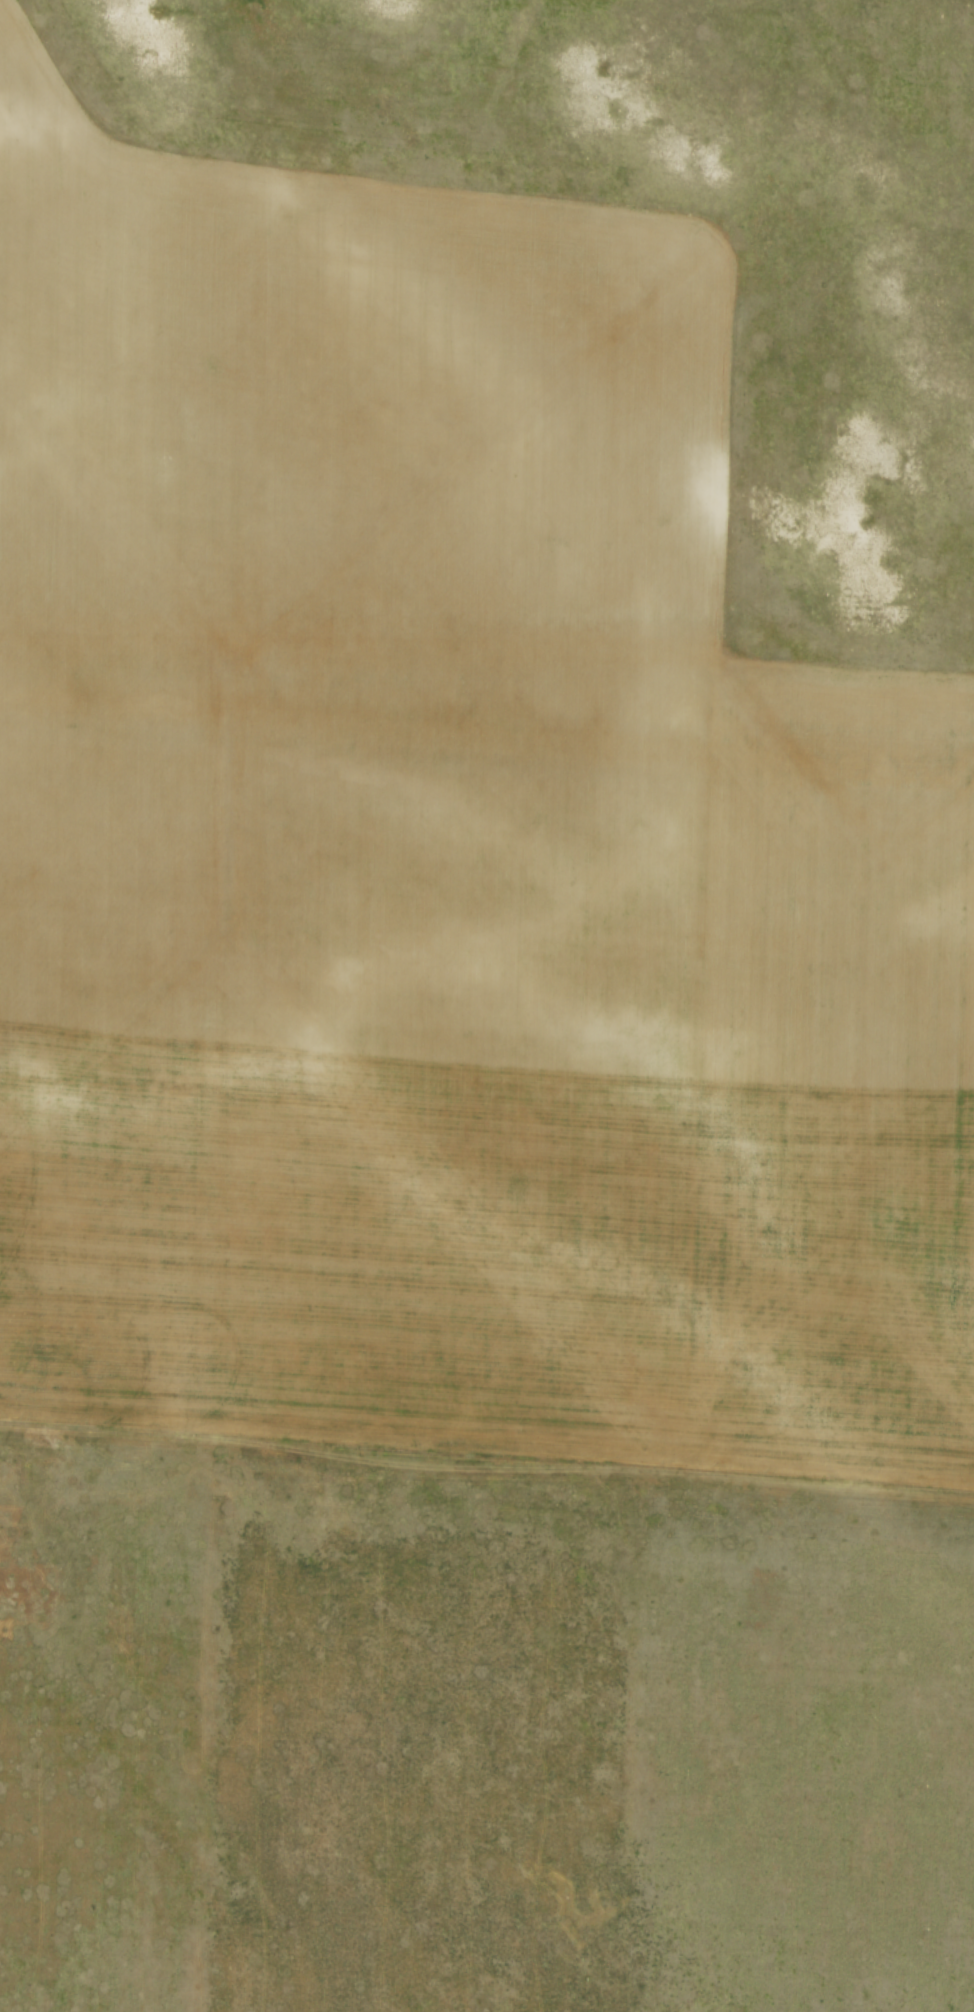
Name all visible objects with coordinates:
crop: (445, 839)
road: (487, 1452)

